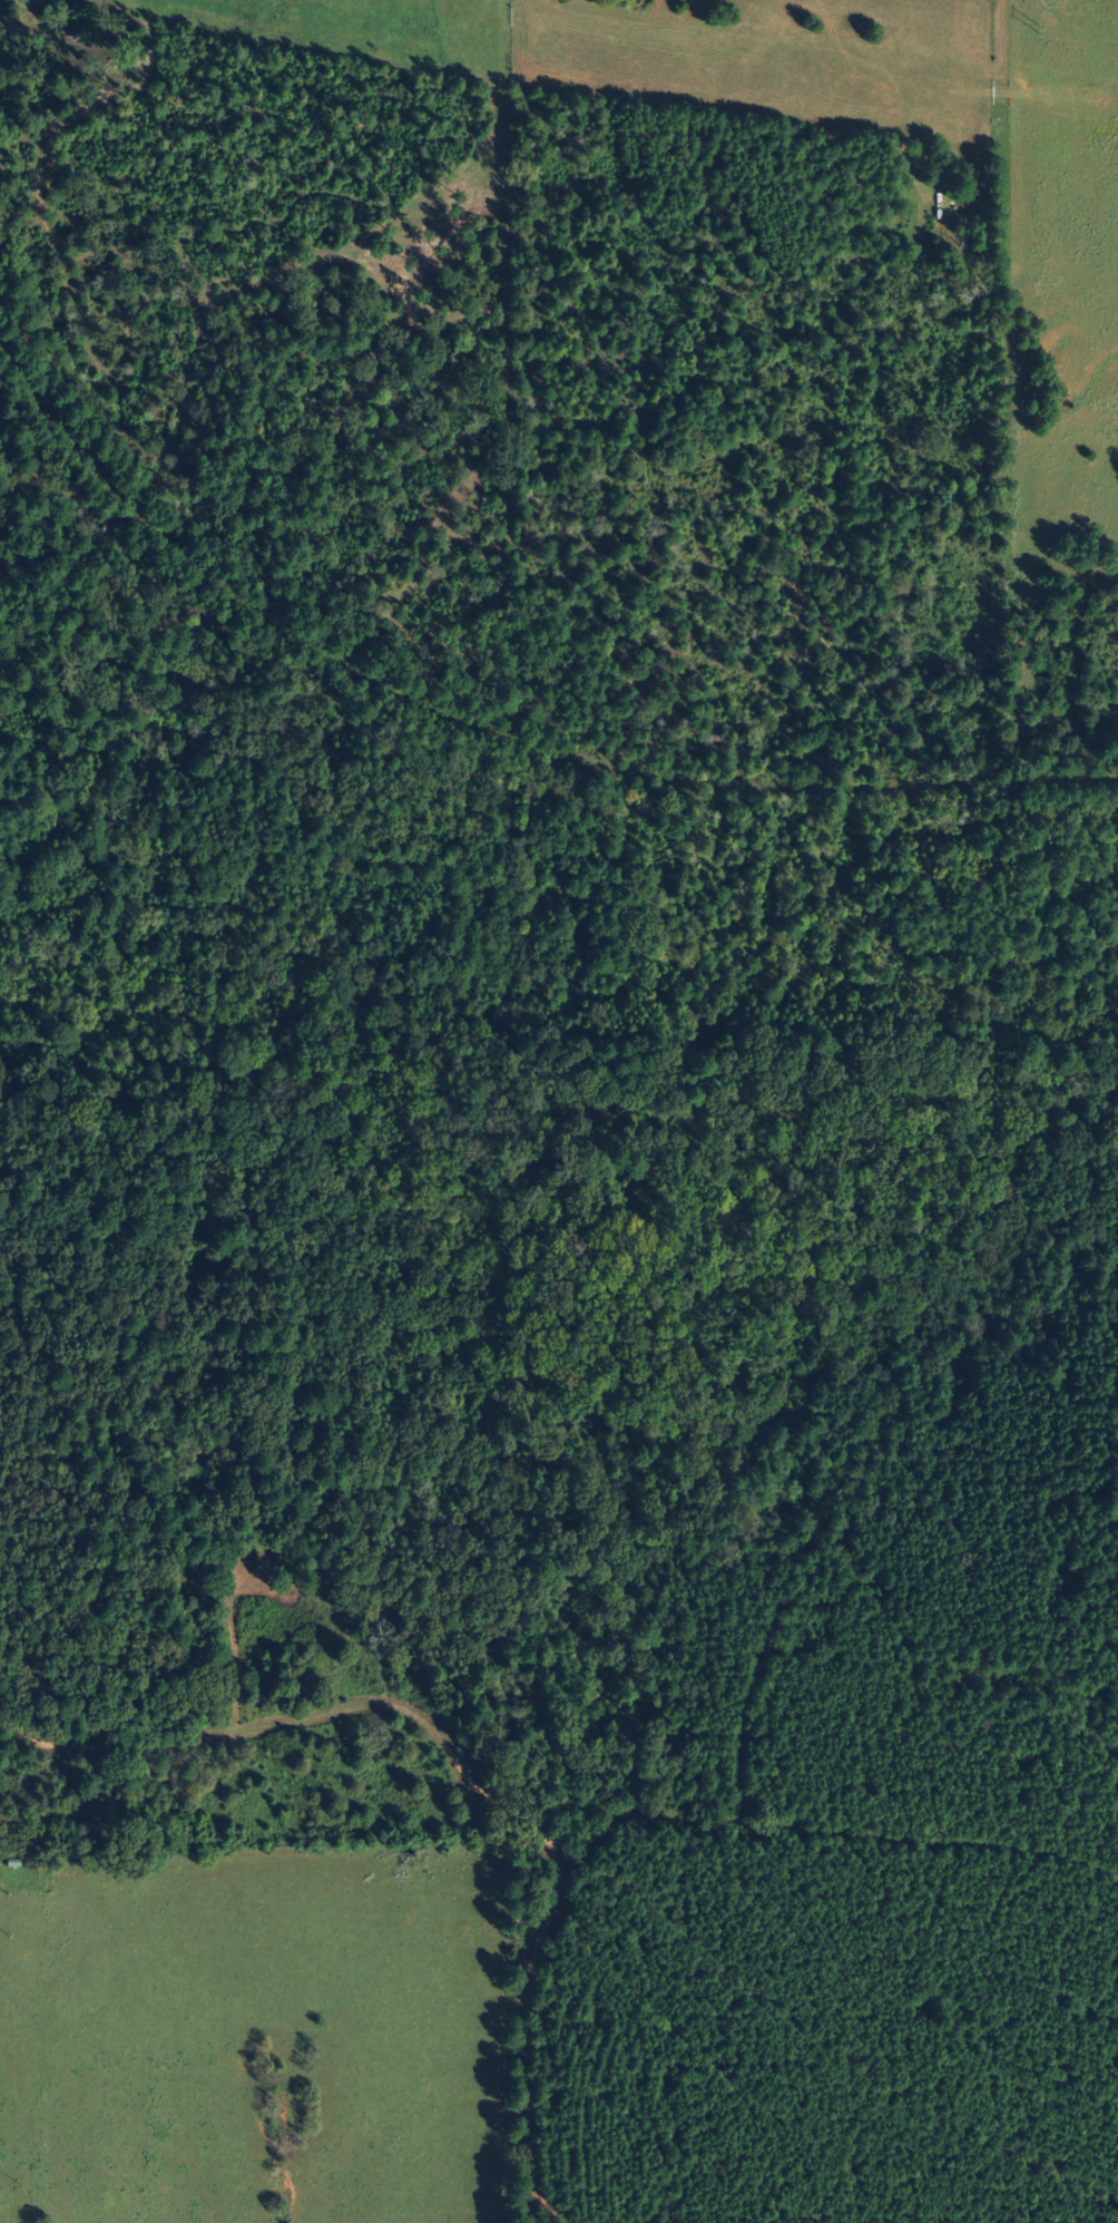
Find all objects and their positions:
road: (96, 1716)

